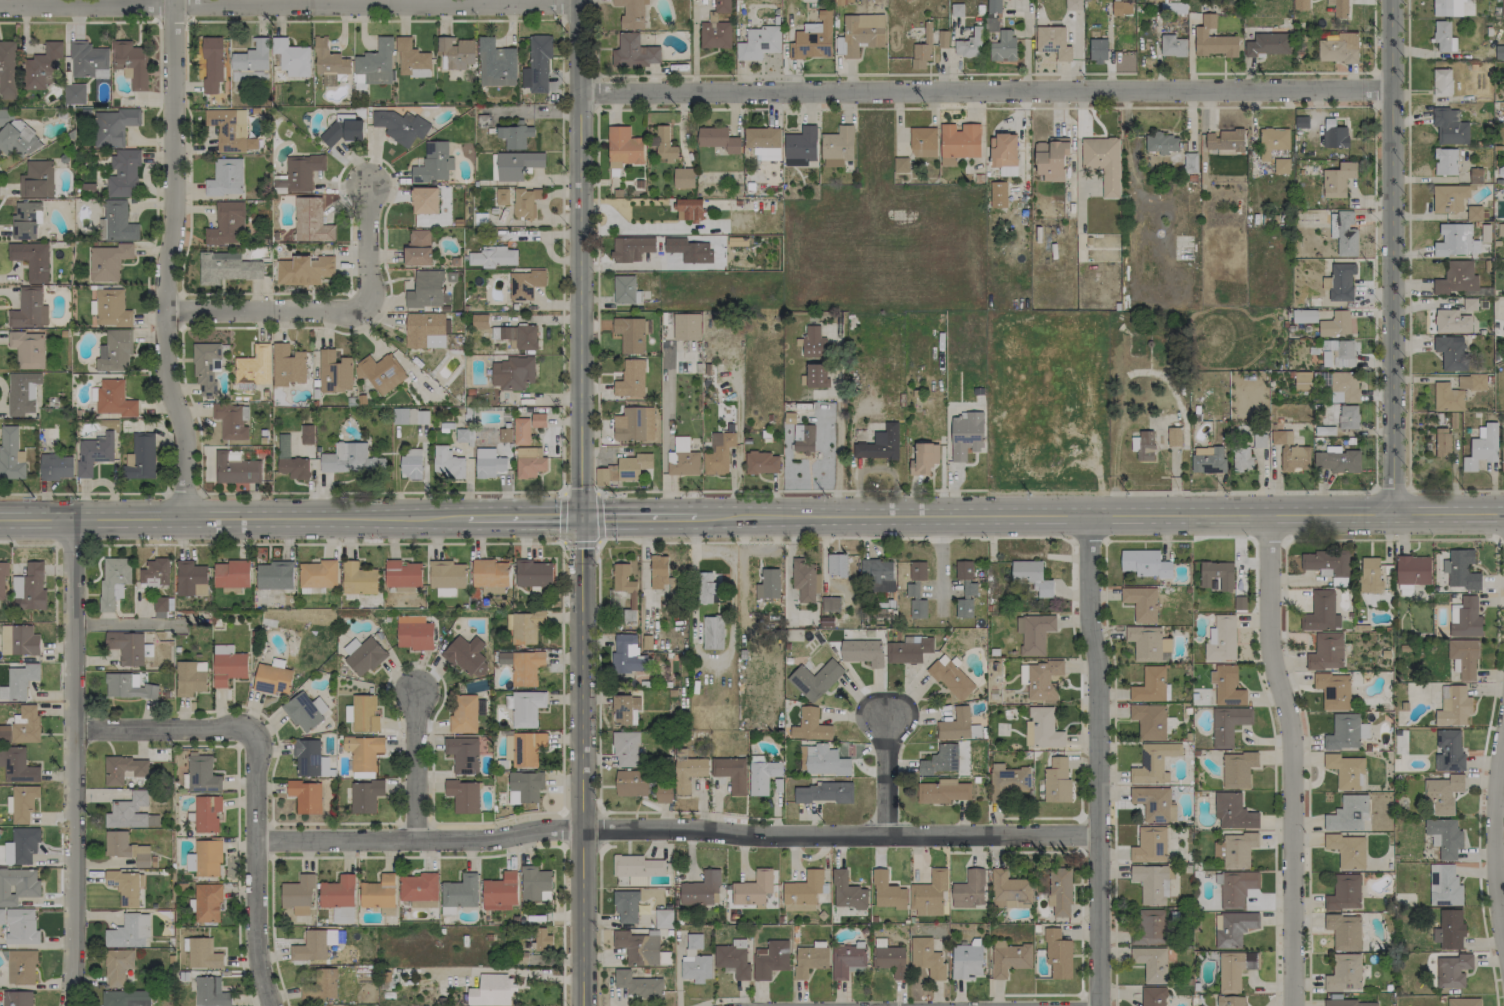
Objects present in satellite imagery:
building: (1466, 0)
road: (289, 3)
building: (1073, 4)
building: (1301, 4)
building: (722, 6)
building: (993, 6)
building: (1121, 8)
building: (1339, 8)
building: (1442, 8)
building: (1502, 8)
road: (559, 12)
building: (631, 13)
road: (76, 21)
building: (715, 34)
building: (859, 34)
road: (1373, 35)
building: (1443, 36)
building: (943, 38)
building: (813, 39)
building: (1214, 41)
building: (1053, 42)
building: (758, 43)
building: (969, 44)
building: (1268, 44)
building: (1172, 45)
building: (1004, 46)
building: (1338, 48)
building: (922, 49)
building: (1098, 50)
building: (455, 52)
building: (634, 52)
building: (1499, 52)
building: (292, 57)
building: (86, 59)
building: (412, 59)
building: (251, 62)
building: (376, 62)
building: (539, 62)
building: (130, 63)
building: (212, 63)
building: (329, 63)
building: (496, 64)
building: (42, 66)
building: (7, 69)
building: (1442, 82)
road: (1374, 89)
road: (986, 92)
building: (74, 93)
road: (885, 109)
building: (4, 115)
building: (1503, 115)
building: (1301, 122)
building: (112, 126)
building: (400, 126)
building: (1449, 126)
building: (230, 130)
building: (343, 130)
building: (515, 135)
building: (1332, 135)
building: (718, 139)
building: (17, 140)
building: (1224, 140)
building: (1272, 141)
building: (763, 142)
building: (922, 142)
building: (959, 142)
building: (1161, 143)
building: (665, 144)
building: (801, 146)
building: (837, 146)
building: (623, 147)
building: (1003, 150)
building: (1051, 159)
building: (1445, 161)
building: (1103, 162)
building: (1190, 162)
building: (433, 163)
building: (517, 164)
building: (901, 164)
building: (1281, 165)
building: (1007, 170)
building: (123, 173)
building: (298, 173)
building: (225, 177)
building: (683, 177)
building: (37, 179)
building: (1337, 179)
road: (3, 187)
building: (998, 191)
building: (502, 196)
building: (1449, 198)
building: (424, 200)
building: (525, 202)
road: (602, 209)
building: (688, 209)
building: (1474, 213)
building: (26, 220)
building: (311, 221)
building: (116, 222)
building: (226, 224)
road: (651, 228)
building: (1500, 229)
building: (1344, 232)
building: (1456, 240)
road: (1408, 246)
road: (363, 247)
building: (418, 248)
building: (631, 248)
building: (694, 252)
building: (493, 256)
road: (1393, 256)
road: (580, 257)
building: (31, 260)
building: (108, 261)
road: (167, 261)
building: (226, 267)
building: (303, 269)
building: (1456, 278)
building: (1341, 281)
building: (525, 284)
building: (425, 289)
building: (625, 290)
road: (1374, 299)
building: (111, 308)
building: (29, 309)
road: (261, 312)
building: (1304, 316)
building: (478, 319)
building: (1451, 321)
building: (1336, 324)
building: (686, 326)
road: (260, 329)
building: (425, 330)
building: (1503, 332)
building: (630, 334)
building: (517, 336)
building: (812, 341)
road: (388, 347)
building: (28, 349)
building: (114, 351)
building: (1451, 352)
building: (1339, 353)
building: (287, 365)
building: (254, 366)
building: (206, 368)
building: (334, 371)
building: (380, 372)
building: (512, 373)
building: (817, 375)
building: (630, 379)
building: (1302, 381)
building: (1471, 382)
building: (1344, 386)
building: (22, 392)
building: (1447, 397)
building: (114, 398)
building: (410, 416)
building: (1348, 416)
building: (538, 420)
building: (230, 421)
building: (634, 424)
road: (839, 424)
building: (521, 431)
building: (306, 434)
building: (462, 435)
building: (505, 435)
road: (664, 435)
building: (966, 435)
building: (1174, 436)
building: (803, 438)
building: (1442, 442)
building: (879, 444)
building: (1143, 445)
building: (1481, 447)
building: (1291, 452)
building: (94, 453)
building: (718, 453)
building: (10, 454)
building: (1502, 456)
building: (140, 457)
building: (682, 458)
building: (924, 458)
building: (350, 459)
building: (1208, 459)
building: (1242, 459)
building: (1337, 460)
building: (291, 461)
building: (448, 462)
building: (529, 462)
building: (762, 462)
building: (488, 463)
building: (411, 464)
building: (56, 467)
building: (235, 468)
building: (623, 469)
road: (1174, 481)
road: (1242, 492)
road: (82, 493)
road: (622, 515)
road: (680, 515)
road: (1100, 515)
road: (524, 516)
road: (234, 519)
road: (1392, 541)
road: (940, 558)
building: (1326, 562)
building: (1145, 563)
building: (836, 565)
building: (917, 570)
building: (963, 570)
building: (1412, 570)
building: (1460, 570)
building: (154, 571)
building: (402, 573)
building: (490, 573)
building: (533, 573)
building: (231, 574)
building: (318, 574)
building: (447, 574)
building: (661, 574)
building: (877, 574)
building: (1217, 574)
building: (275, 575)
building: (1032, 576)
building: (1371, 576)
building: (3, 577)
building: (191, 578)
building: (358, 579)
building: (113, 580)
building: (804, 580)
building: (768, 584)
building: (30, 587)
building: (705, 587)
building: (446, 592)
building: (830, 603)
building: (1141, 603)
building: (160, 604)
building: (917, 608)
building: (964, 608)
building: (1321, 612)
building: (1465, 617)
building: (525, 626)
building: (414, 632)
building: (712, 632)
building: (1034, 633)
building: (1221, 639)
building: (18, 640)
building: (1148, 643)
building: (126, 647)
building: (909, 649)
building: (862, 651)
building: (1326, 651)
building: (465, 654)
building: (627, 654)
building: (363, 655)
building: (1463, 658)
building: (227, 665)
building: (523, 666)
building: (951, 677)
building: (189, 679)
building: (272, 679)
building: (814, 679)
building: (1042, 680)
building: (19, 681)
building: (1150, 685)
building: (1226, 685)
building: (128, 687)
building: (1333, 690)
building: (1453, 706)
building: (525, 707)
building: (625, 709)
building: (305, 711)
building: (362, 713)
building: (463, 713)
building: (1149, 720)
building: (25, 724)
building: (1228, 724)
building: (810, 725)
building: (955, 725)
building: (1042, 728)
road: (171, 730)
building: (975, 731)
building: (1343, 732)
building: (527, 748)
building: (625, 748)
building: (363, 751)
building: (1449, 751)
building: (462, 754)
building: (306, 757)
road: (1292, 759)
road: (581, 760)
building: (942, 760)
road: (1100, 760)
building: (825, 761)
road: (74, 763)
building: (1153, 763)
building: (17, 765)
building: (324, 766)
building: (124, 769)
building: (1237, 769)
road: (415, 770)
building: (687, 770)
building: (1346, 771)
building: (731, 773)
building: (202, 774)
building: (762, 776)
road: (888, 776)
building: (1056, 780)
building: (1009, 781)
building: (631, 783)
building: (525, 786)
building: (943, 791)
building: (663, 792)
building: (825, 792)
building: (1441, 794)
building: (365, 795)
building: (463, 795)
building: (305, 796)
building: (21, 802)
building: (1154, 804)
building: (128, 811)
building: (1233, 811)
building: (206, 813)
building: (1348, 814)
road: (676, 831)
building: (1444, 836)
road: (1496, 839)
building: (24, 844)
building: (1150, 845)
building: (126, 848)
building: (1236, 849)
building: (1347, 850)
building: (205, 858)
building: (637, 865)
road: (253, 878)
building: (637, 880)
building: (534, 882)
building: (1151, 883)
building: (18, 885)
building: (1444, 885)
building: (124, 887)
building: (1235, 887)
building: (753, 888)
building: (803, 888)
building: (419, 889)
building: (701, 889)
building: (969, 889)
building: (1009, 890)
building: (460, 891)
building: (500, 891)
building: (847, 891)
building: (887, 891)
building: (1059, 891)
building: (338, 892)
building: (378, 892)
building: (1344, 892)
building: (928, 893)
building: (298, 894)
building: (207, 903)
building: (626, 906)
building: (343, 915)
building: (663, 918)
building: (20, 925)
building: (1149, 928)
building: (1234, 928)
building: (1449, 929)
building: (1344, 931)
building: (129, 932)
building: (331, 936)
building: (542, 939)
building: (694, 941)
building: (310, 946)
building: (637, 947)
building: (203, 954)
building: (1057, 954)
building: (927, 958)
building: (1009, 958)
building: (770, 959)
building: (846, 959)
building: (732, 960)
building: (809, 960)
building: (889, 960)
building: (967, 961)
building: (1151, 963)
building: (118, 966)
building: (21, 967)
building: (696, 968)
building: (1235, 969)
building: (1452, 970)
building: (320, 984)
building: (637, 984)
building: (491, 990)
building: (210, 992)
building: (1153, 996)
building: (17, 998)
building: (126, 998)
building: (1231, 1001)
building: (1464, 1002)
building: (1350, 1003)

